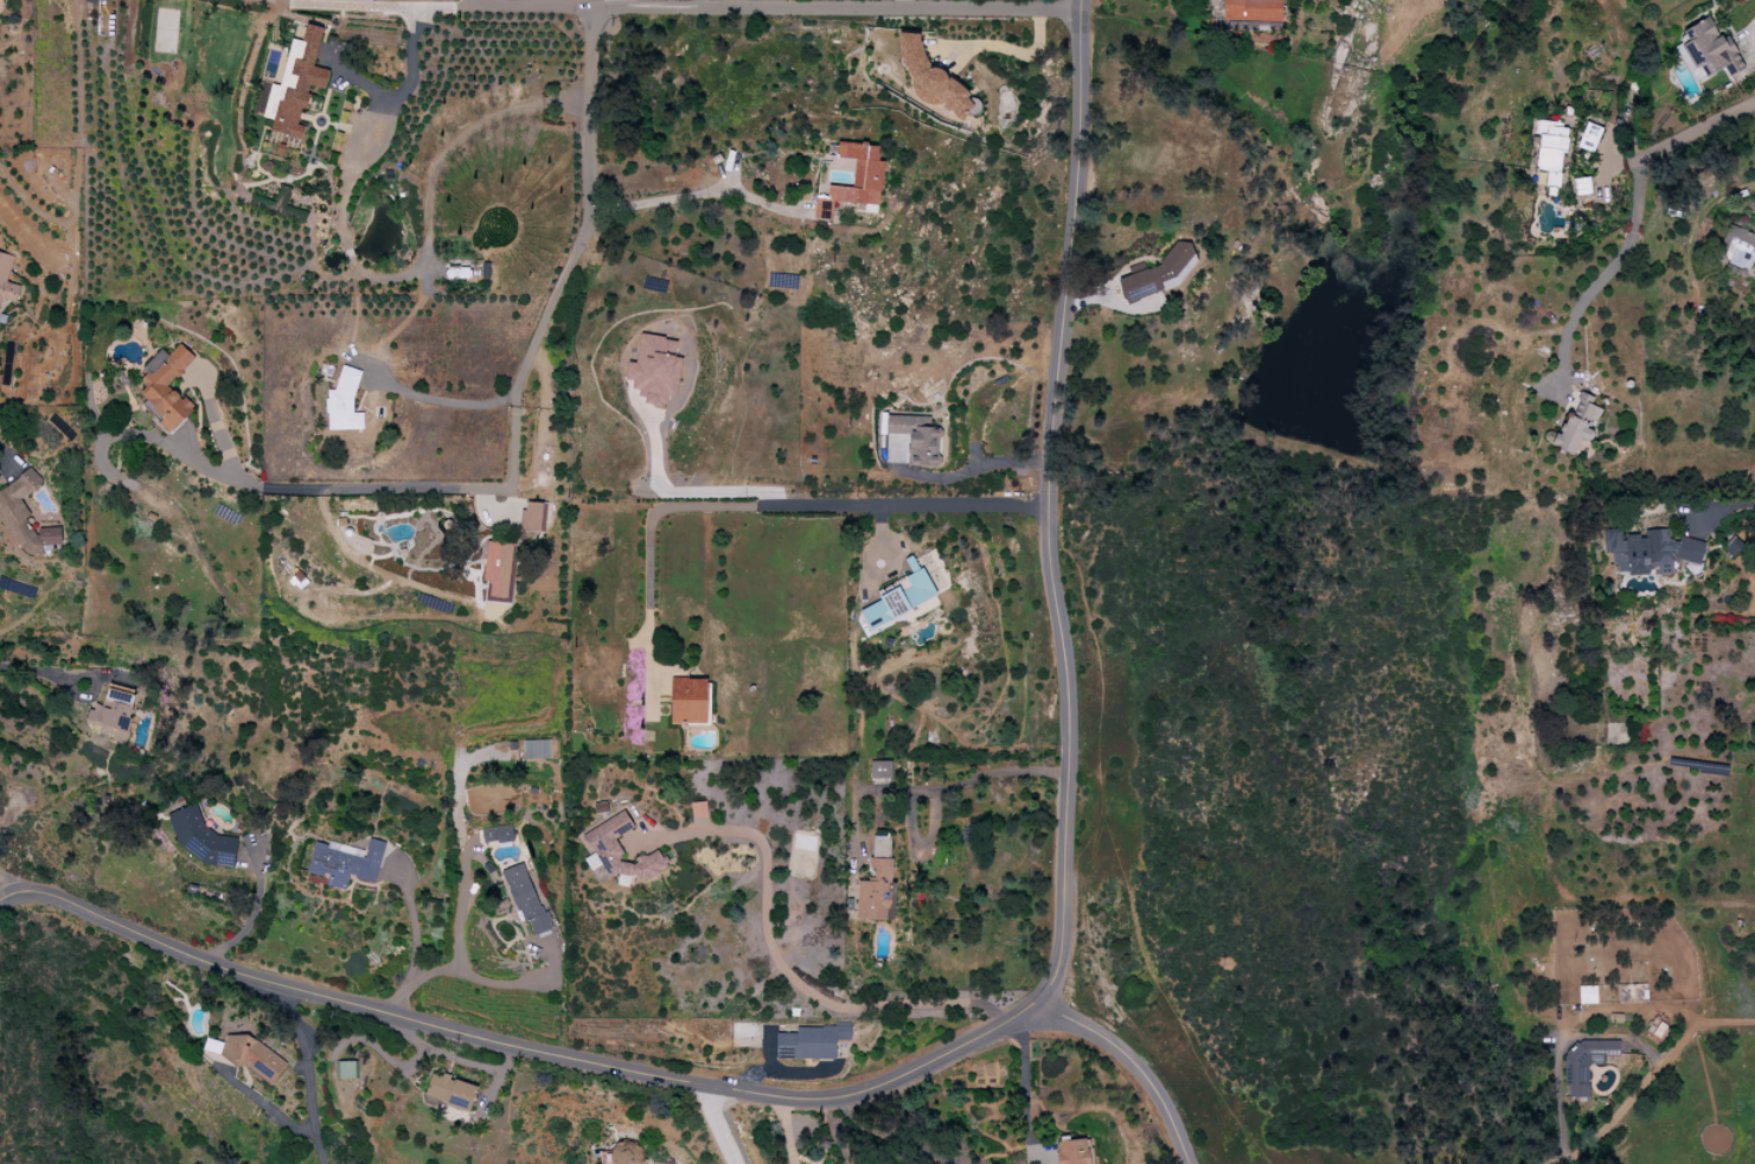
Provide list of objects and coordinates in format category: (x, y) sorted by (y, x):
road: (615, 4)
road: (749, 4)
road: (774, 8)
building: (1253, 9)
road: (1750, 39)
road: (1007, 49)
building: (1708, 50)
road: (410, 56)
building: (293, 84)
building: (1588, 136)
road: (1659, 147)
building: (1550, 148)
building: (1703, 177)
building: (854, 179)
building: (1581, 185)
road: (685, 193)
building: (1738, 248)
road: (425, 254)
building: (6, 279)
road: (1575, 307)
building: (654, 369)
building: (166, 385)
road: (443, 401)
building: (344, 402)
road: (518, 407)
building: (1574, 424)
building: (917, 436)
road: (2, 456)
road: (984, 465)
road: (687, 488)
road: (758, 505)
road: (1050, 506)
road: (1722, 507)
building: (530, 513)
building: (24, 516)
building: (1731, 545)
building: (1648, 551)
building: (498, 569)
building: (898, 595)
road: (43, 671)
building: (687, 699)
building: (113, 711)
building: (536, 748)
building: (879, 768)
road: (936, 787)
building: (497, 833)
building: (199, 837)
building: (619, 852)
building: (345, 861)
building: (877, 881)
building: (525, 898)
road: (463, 906)
road: (254, 913)
road: (414, 925)
road: (779, 959)
road: (481, 978)
building: (1587, 993)
road: (1658, 1009)
road: (408, 1018)
road: (1562, 1034)
building: (809, 1042)
road: (941, 1053)
building: (248, 1055)
building: (1583, 1063)
building: (346, 1069)
road: (1134, 1069)
road: (302, 1077)
road: (1023, 1088)
building: (450, 1091)
road: (1558, 1104)
road: (711, 1123)
road: (784, 1128)
road: (891, 1136)
building: (1074, 1150)
building: (626, 1152)
building: (660, 1163)

